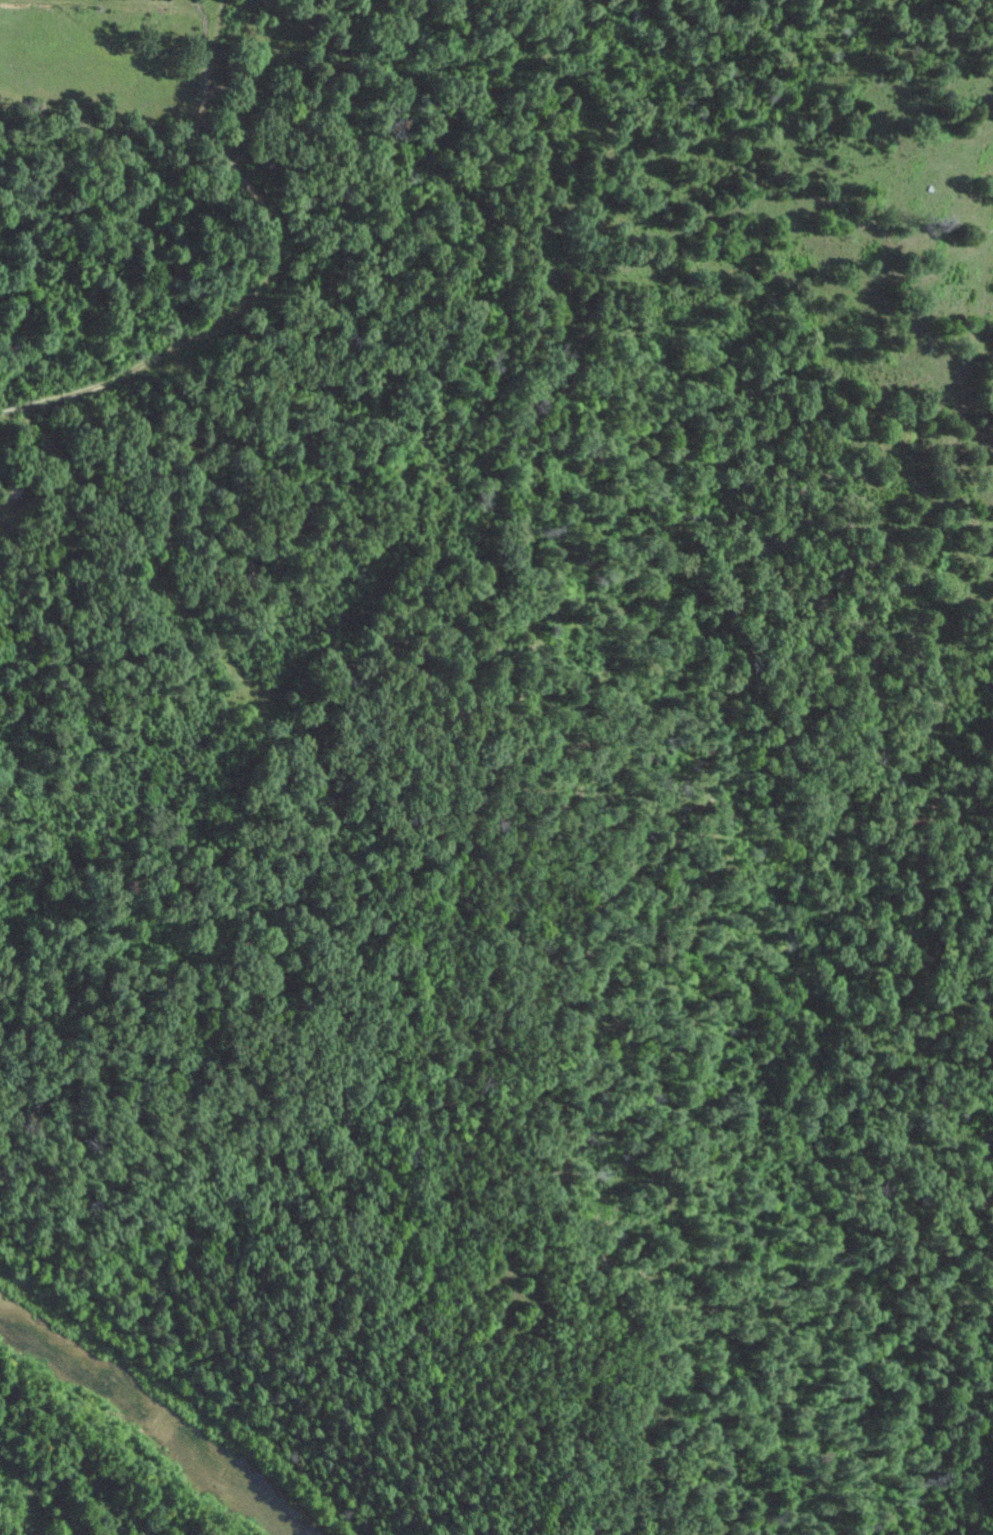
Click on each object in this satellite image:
river: (148, 1410)

